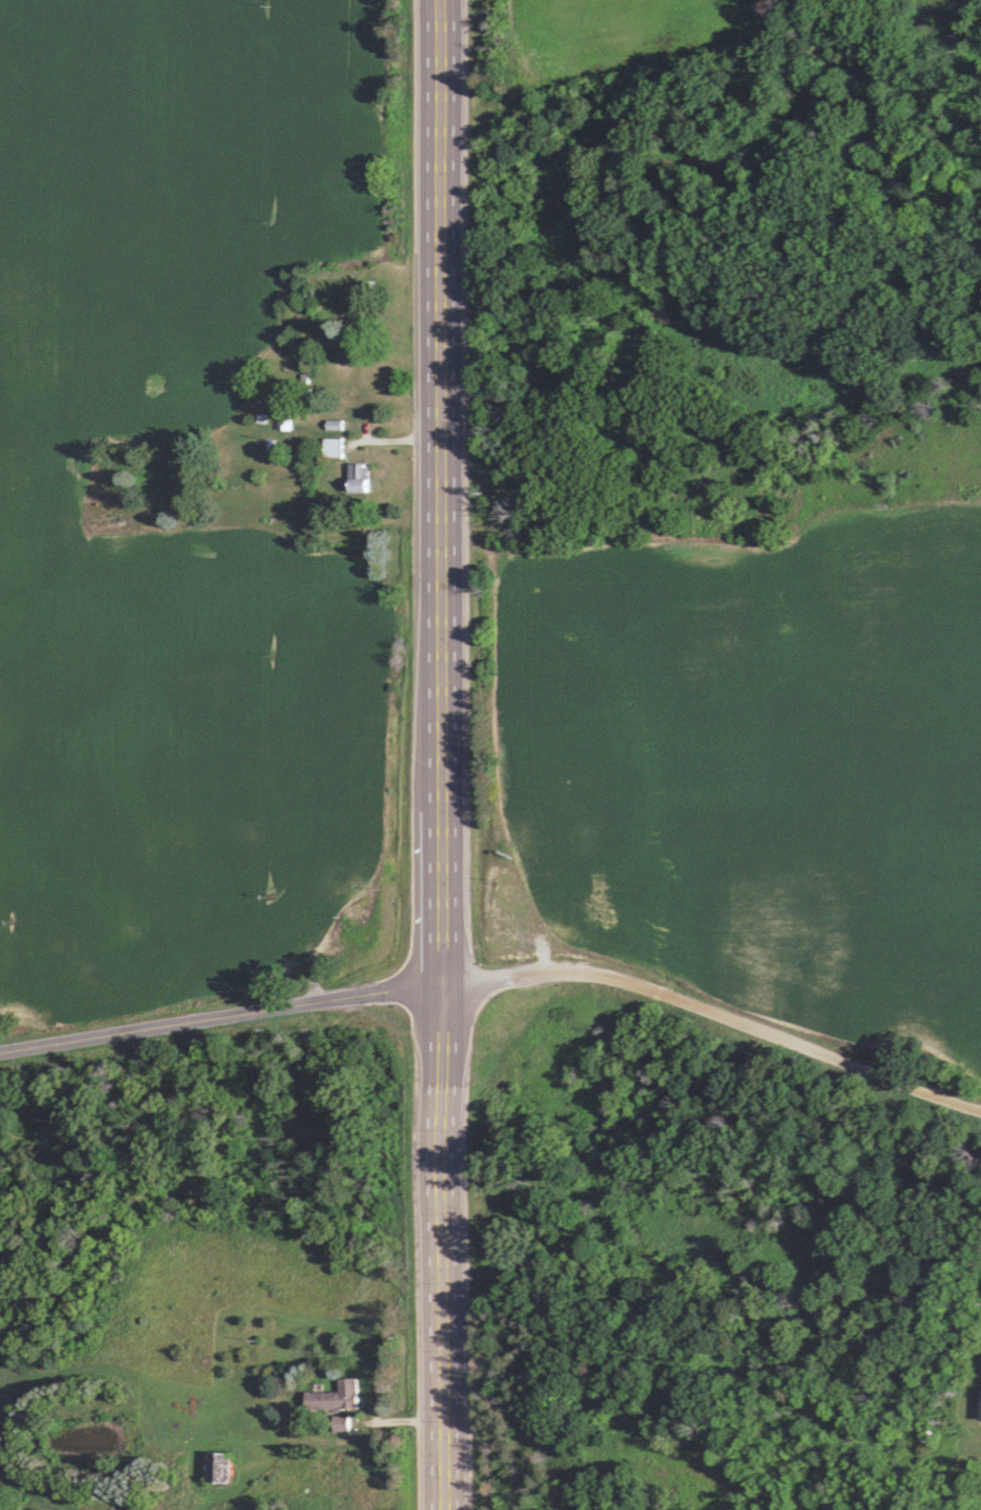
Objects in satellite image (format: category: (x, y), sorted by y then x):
building: (377, 380)
building: (285, 421)
building: (332, 447)
building: (359, 478)
building: (501, 496)
road: (443, 754)
road: (254, 1013)
road: (747, 1025)
building: (335, 1396)
building: (979, 1404)
building: (219, 1467)

